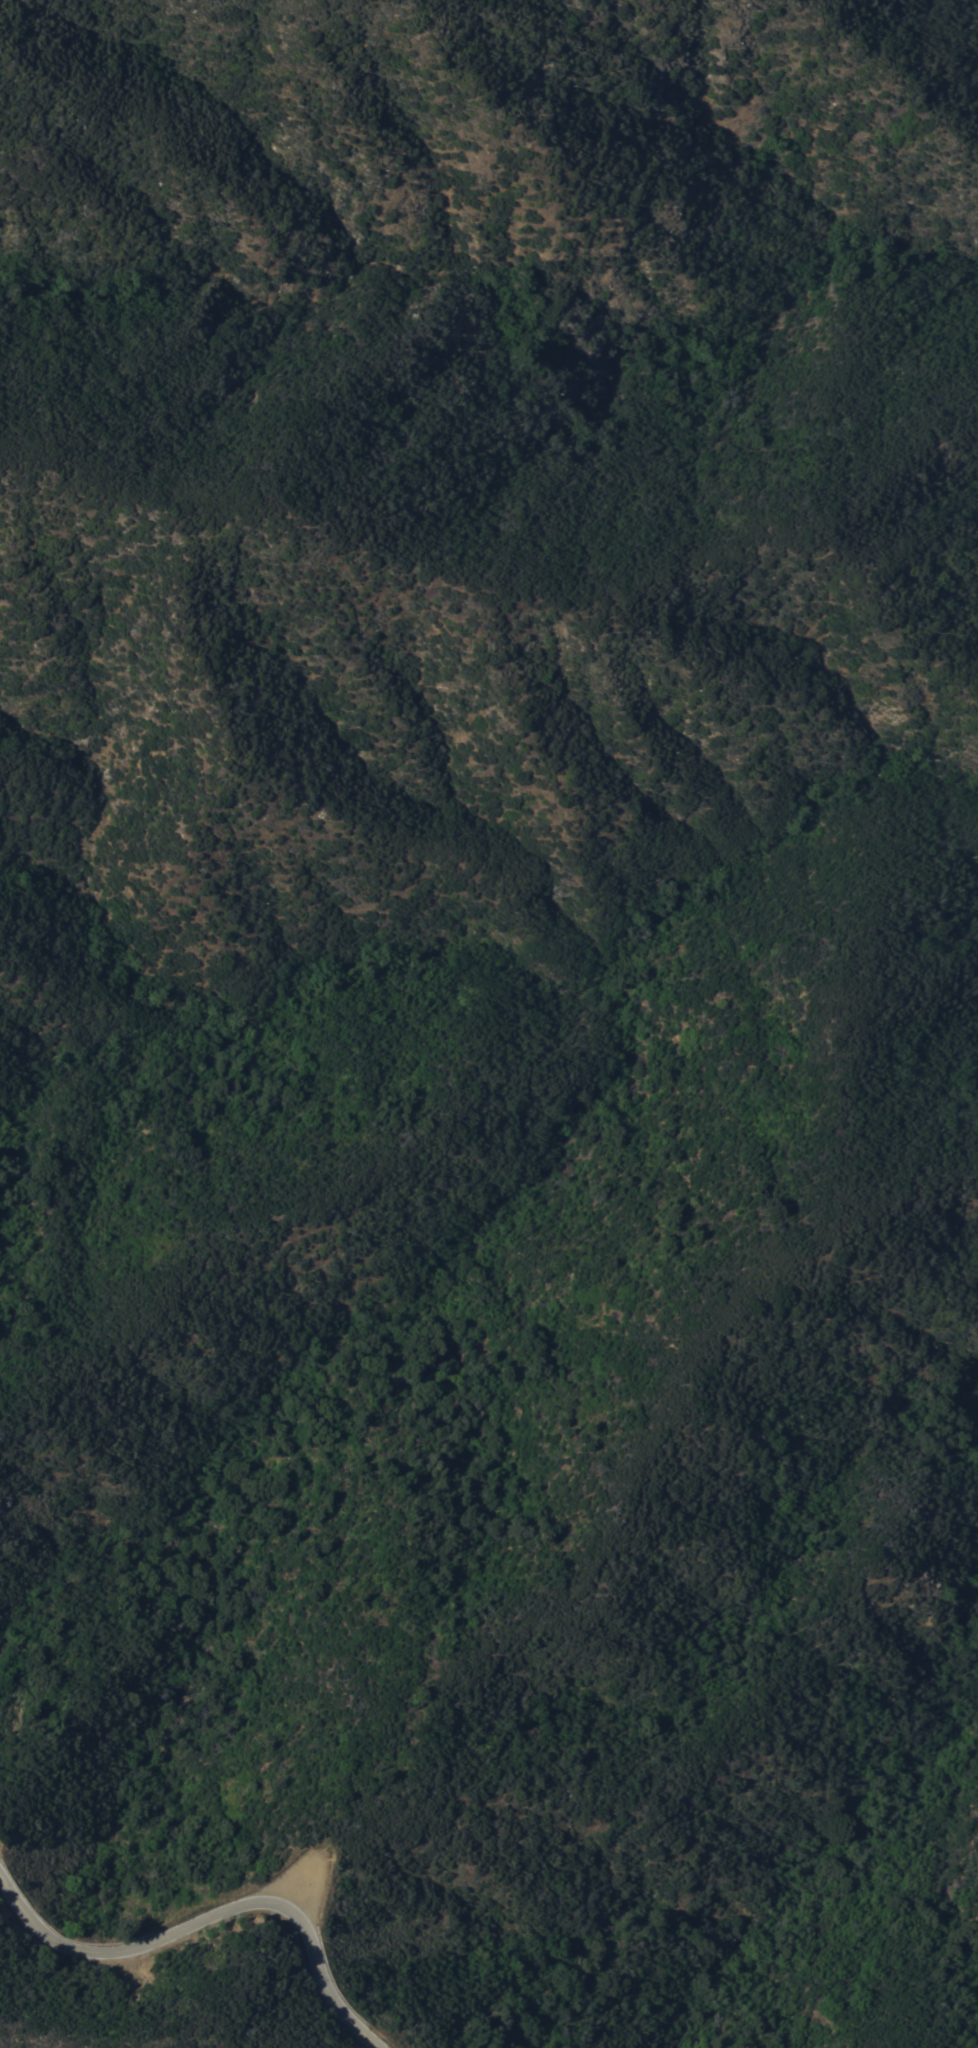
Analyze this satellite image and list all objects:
road: (212, 1915)

